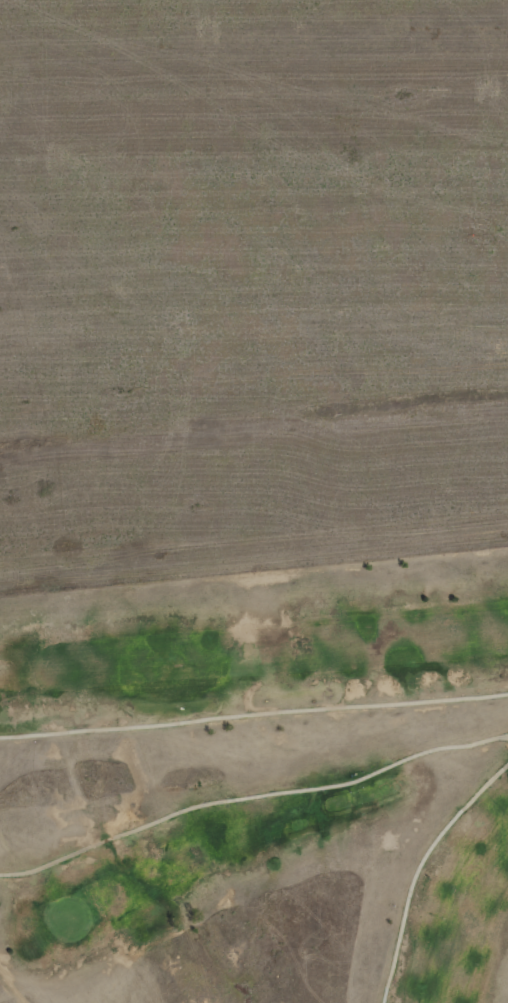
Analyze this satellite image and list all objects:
road: (253, 714)
park: (258, 785)
road: (251, 796)
road: (419, 870)

